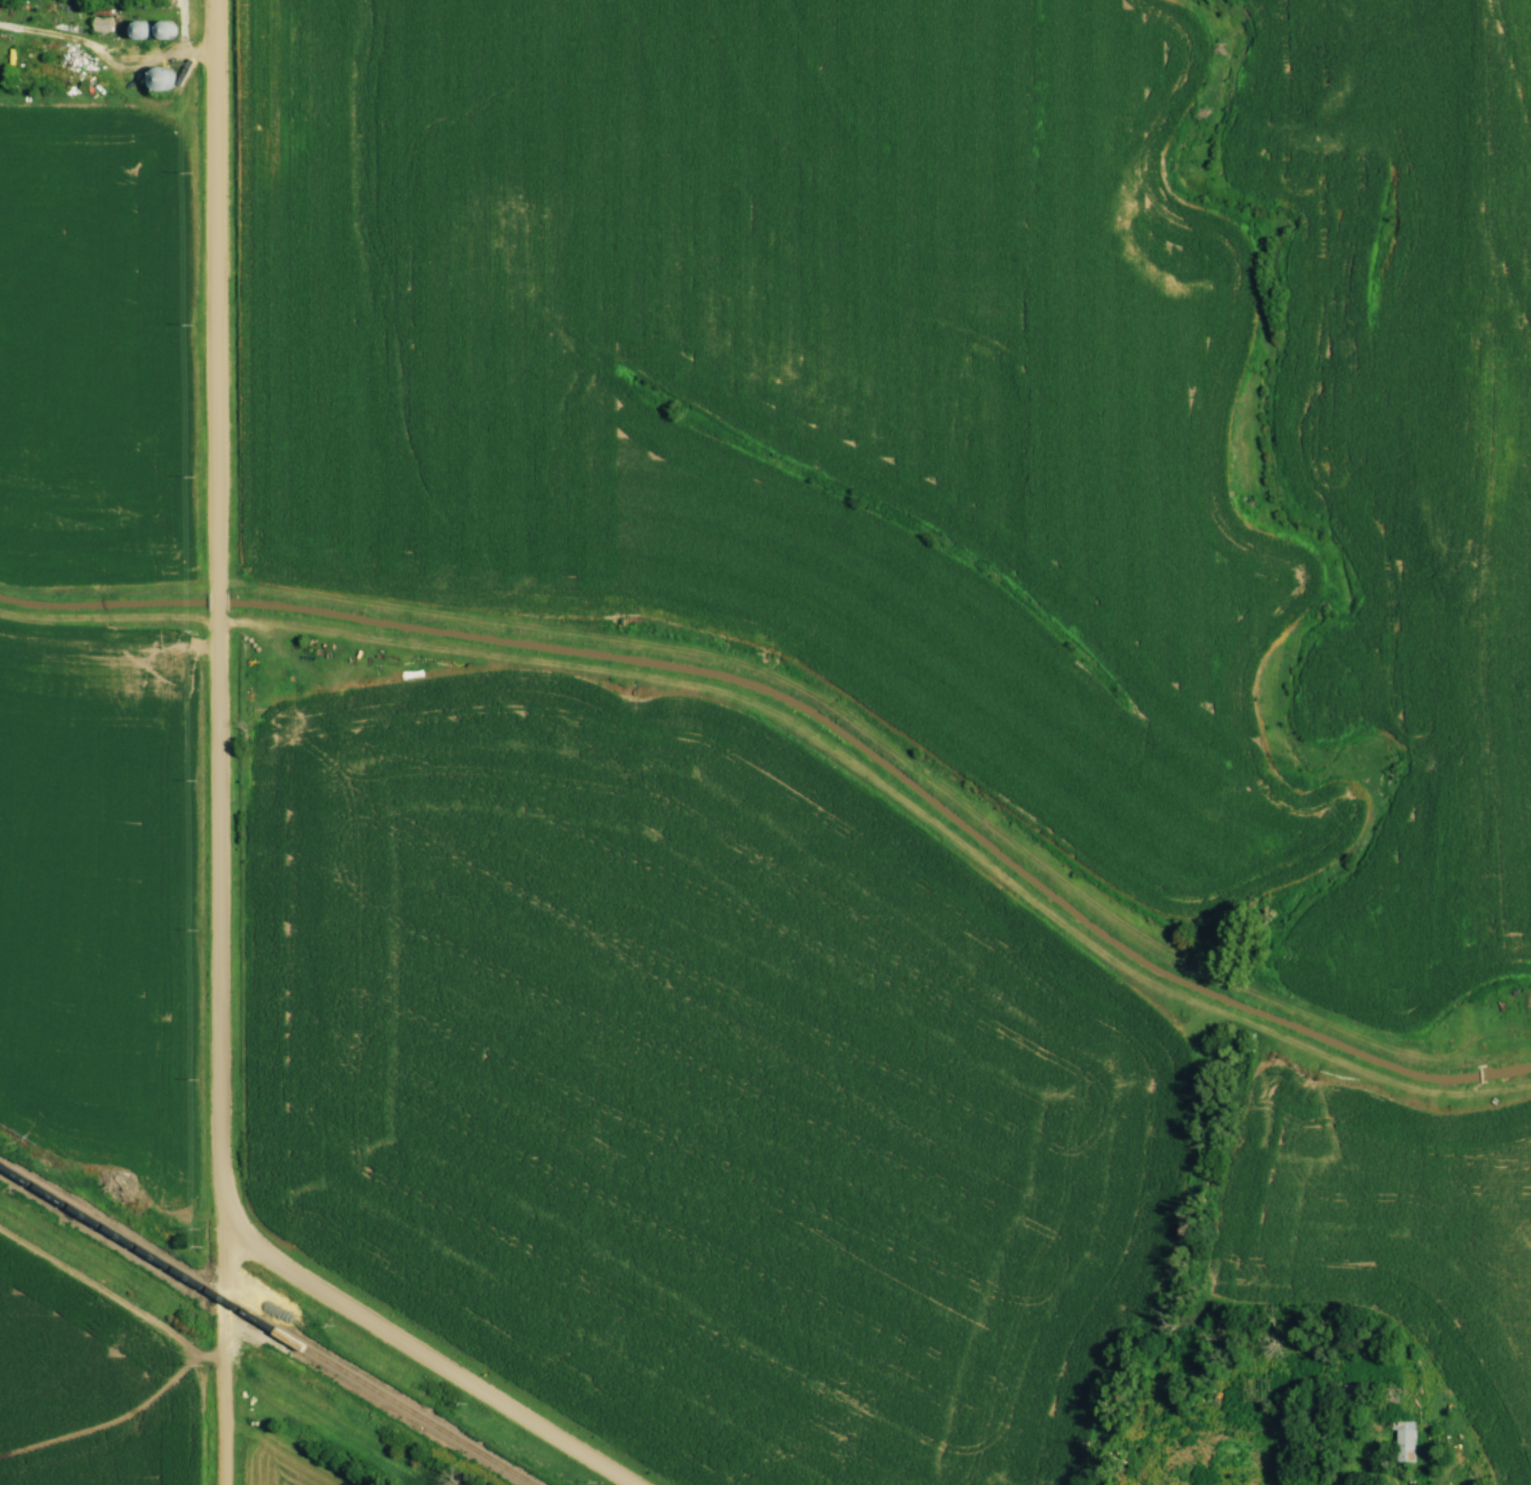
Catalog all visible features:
building: (142, 30)
building: (170, 30)
building: (164, 79)
road: (215, 610)
railway: (268, 1324)
road: (224, 1351)
road: (424, 1357)
building: (1402, 1441)
road: (1377, 1465)

